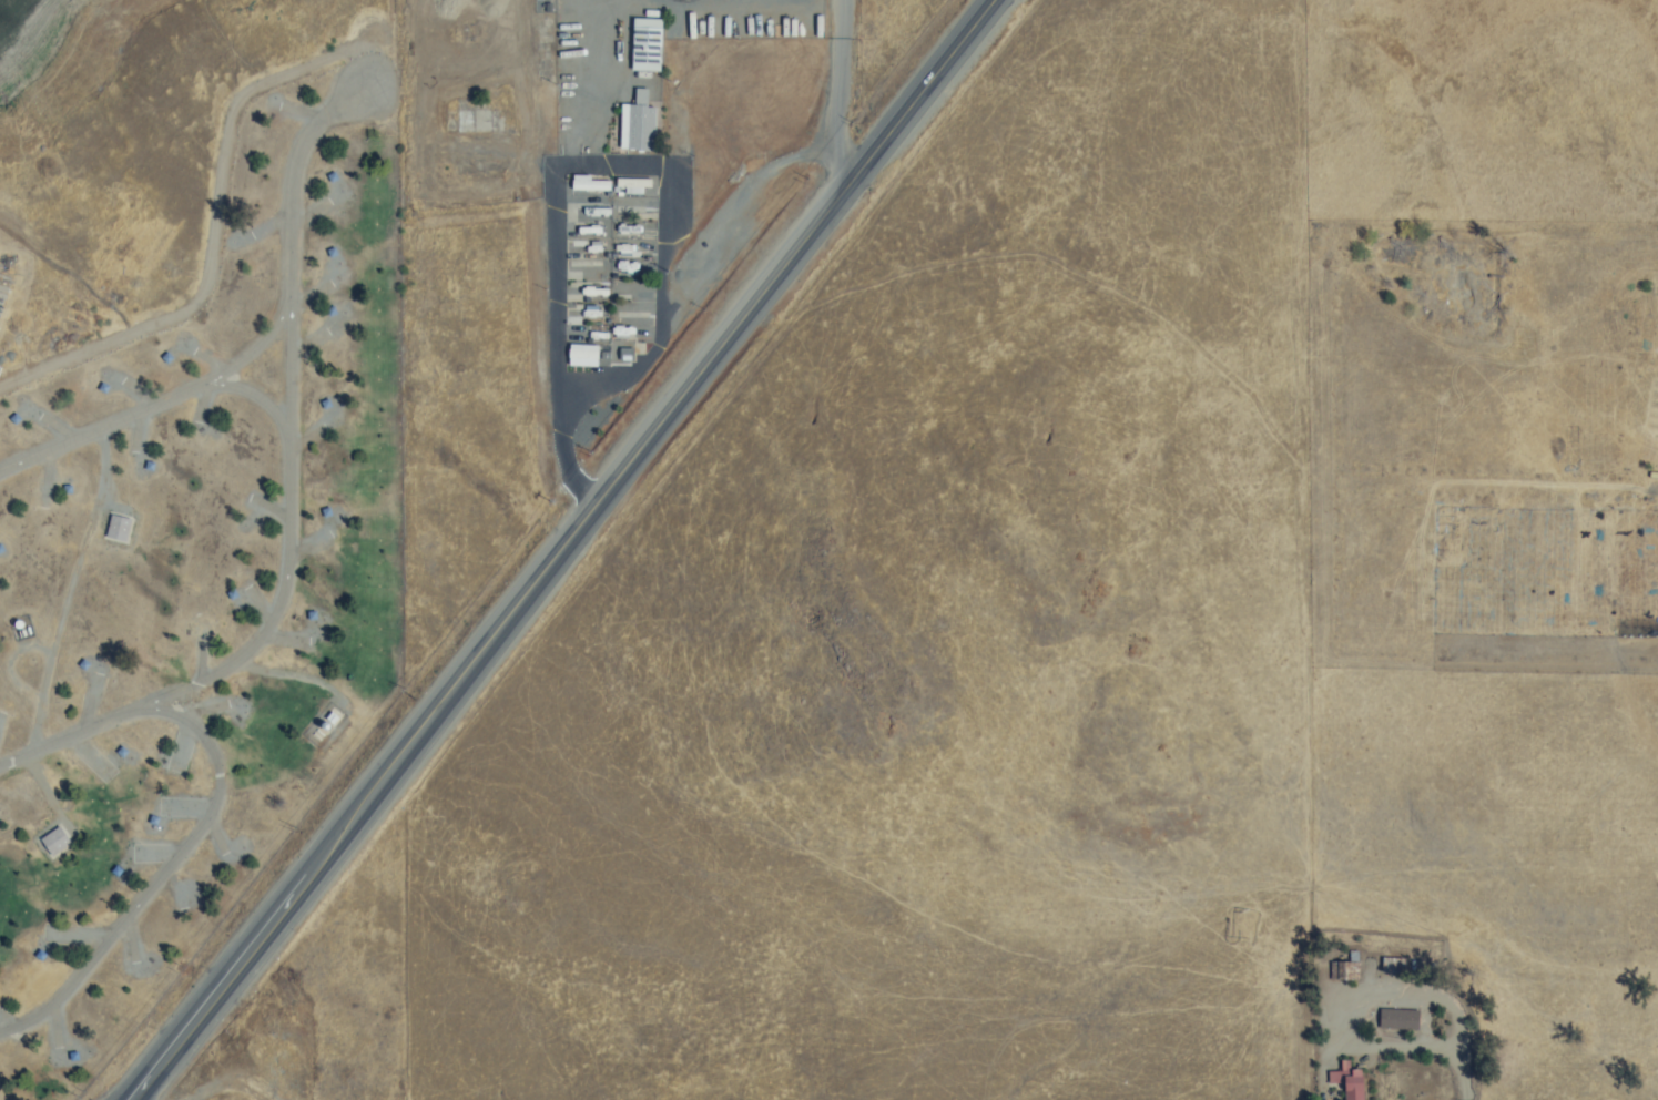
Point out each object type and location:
building: (645, 45)
crop: (914, 103)
building: (637, 124)
building: (588, 205)
building: (582, 356)
building: (116, 527)
road: (562, 551)
crop: (1483, 661)
building: (53, 841)
crop: (293, 880)
building: (1391, 965)
building: (1395, 1019)
building: (1347, 1080)

